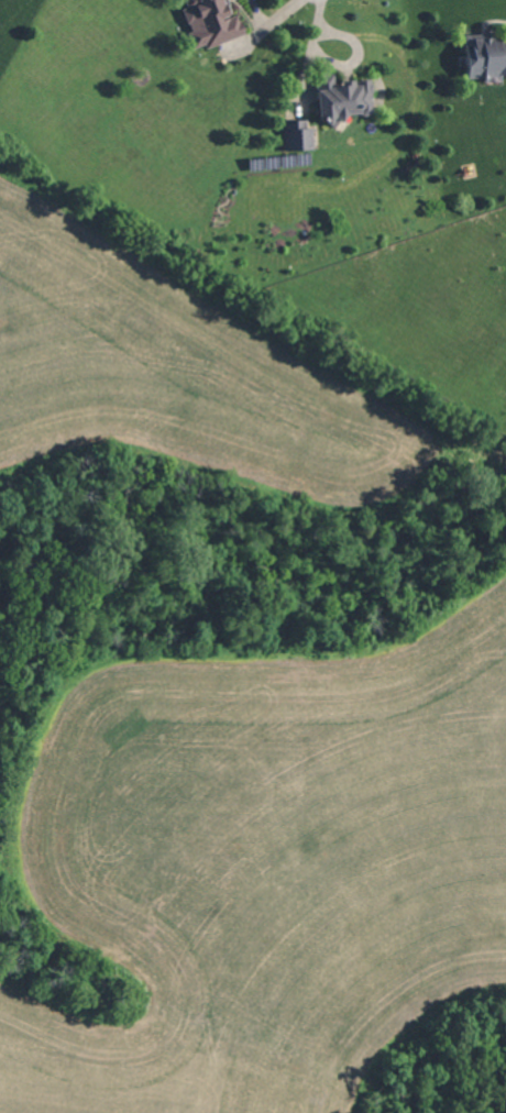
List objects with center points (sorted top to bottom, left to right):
road: (268, 21)
building: (207, 22)
building: (482, 55)
building: (338, 96)
building: (293, 134)

